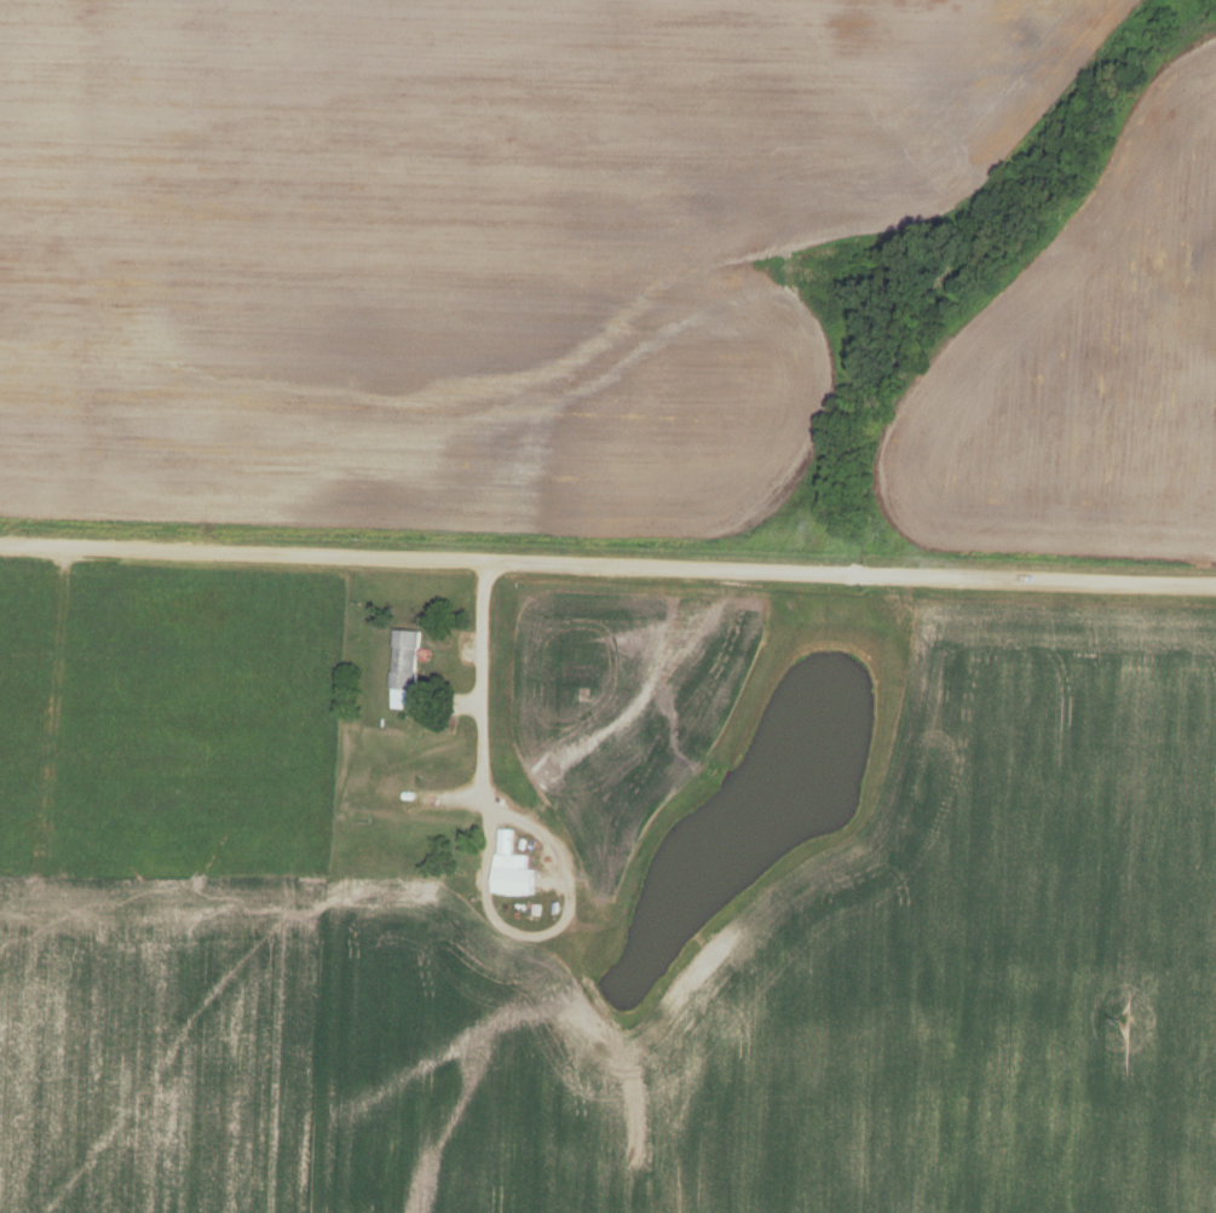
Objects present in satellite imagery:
road: (607, 563)
road: (480, 648)
building: (405, 671)
building: (512, 870)

